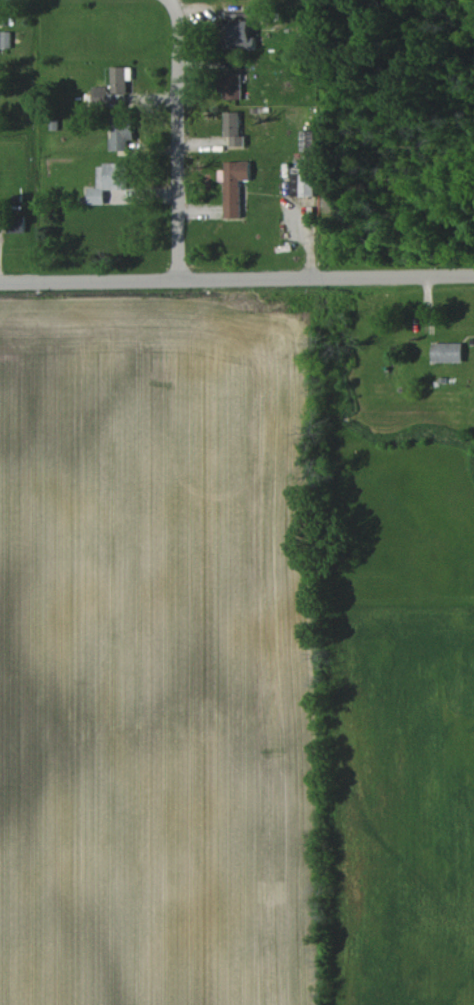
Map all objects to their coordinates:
building: (239, 36)
building: (6, 39)
building: (232, 86)
building: (113, 87)
building: (234, 127)
building: (121, 131)
road: (178, 140)
building: (302, 185)
building: (234, 186)
building: (14, 224)
road: (237, 279)
building: (448, 352)

